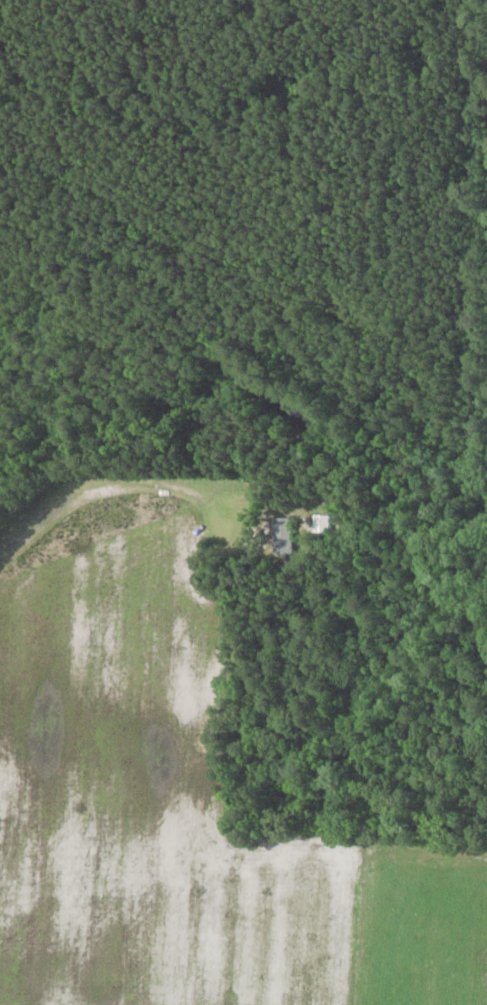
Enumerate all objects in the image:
road: (138, 480)
building: (282, 534)

